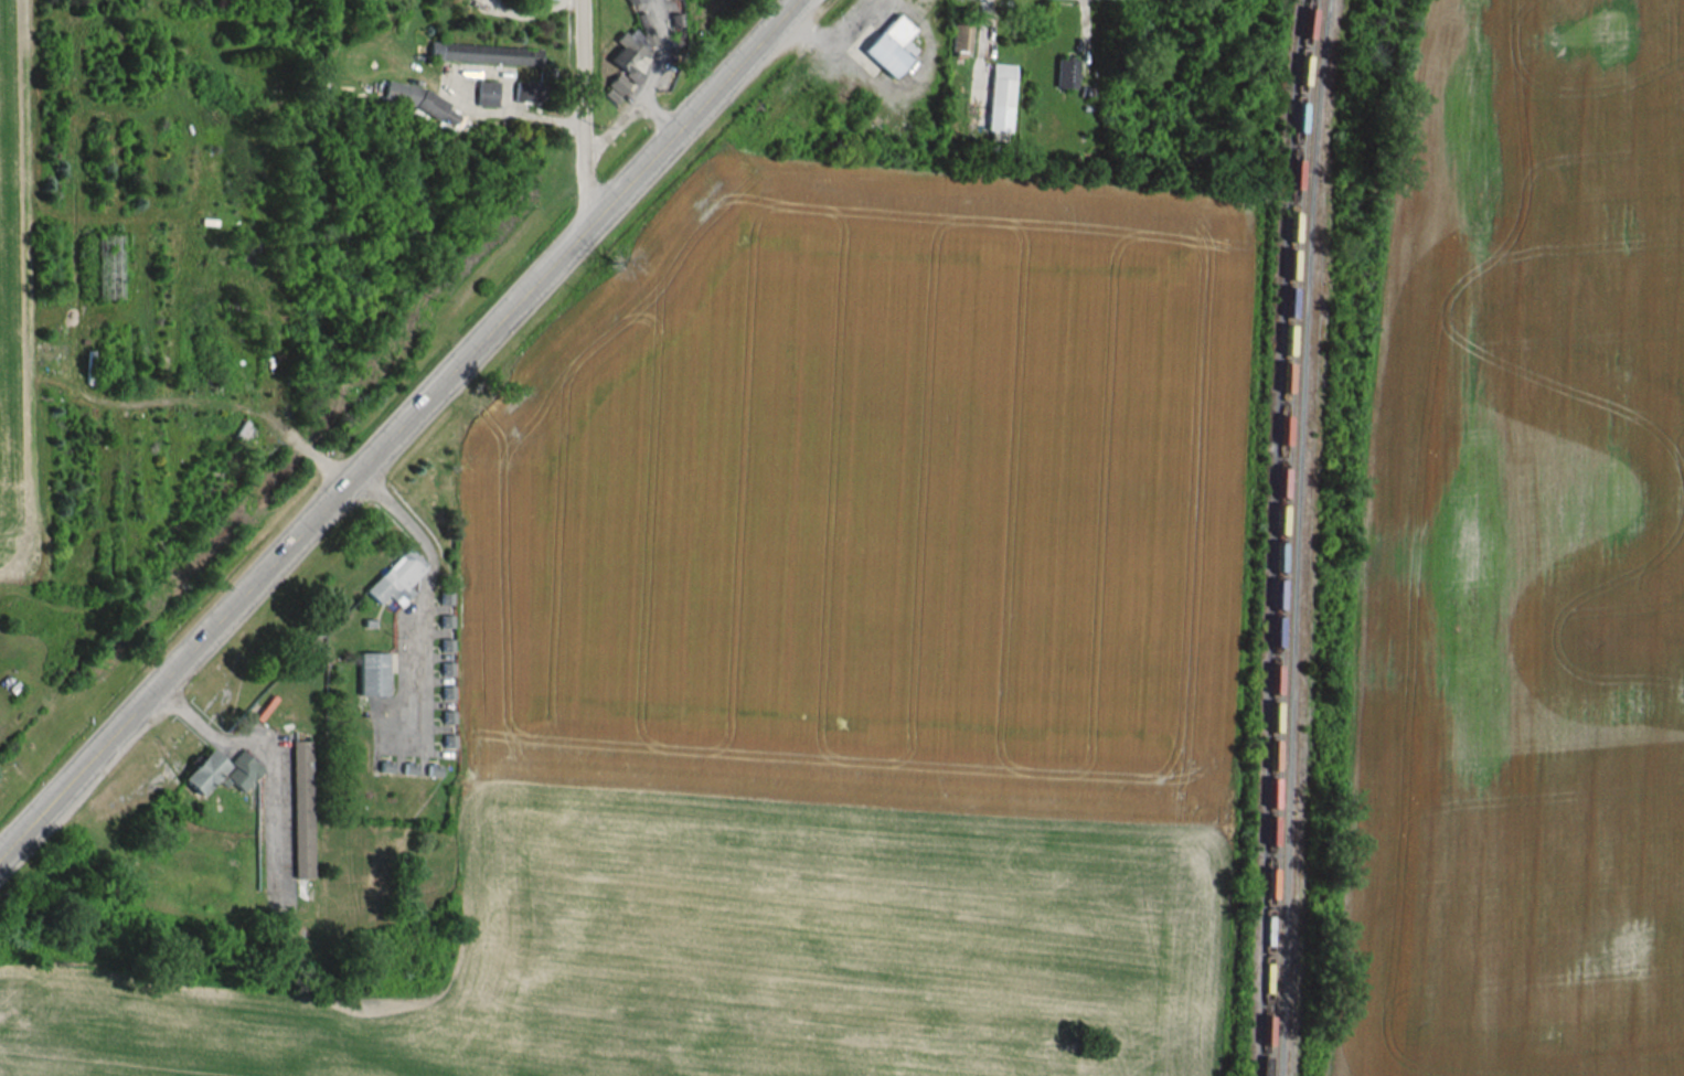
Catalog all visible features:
building: (961, 39)
building: (891, 45)
building: (629, 52)
building: (484, 53)
road: (652, 72)
building: (1066, 73)
building: (616, 87)
building: (525, 89)
building: (487, 92)
building: (1000, 96)
building: (417, 98)
road: (588, 114)
road: (617, 122)
railway: (1296, 145)
railway: (1307, 146)
road: (401, 428)
building: (396, 577)
road: (422, 592)
building: (372, 673)
railway: (1272, 683)
railway: (1285, 683)
road: (277, 761)
building: (243, 769)
building: (204, 771)
building: (302, 808)

